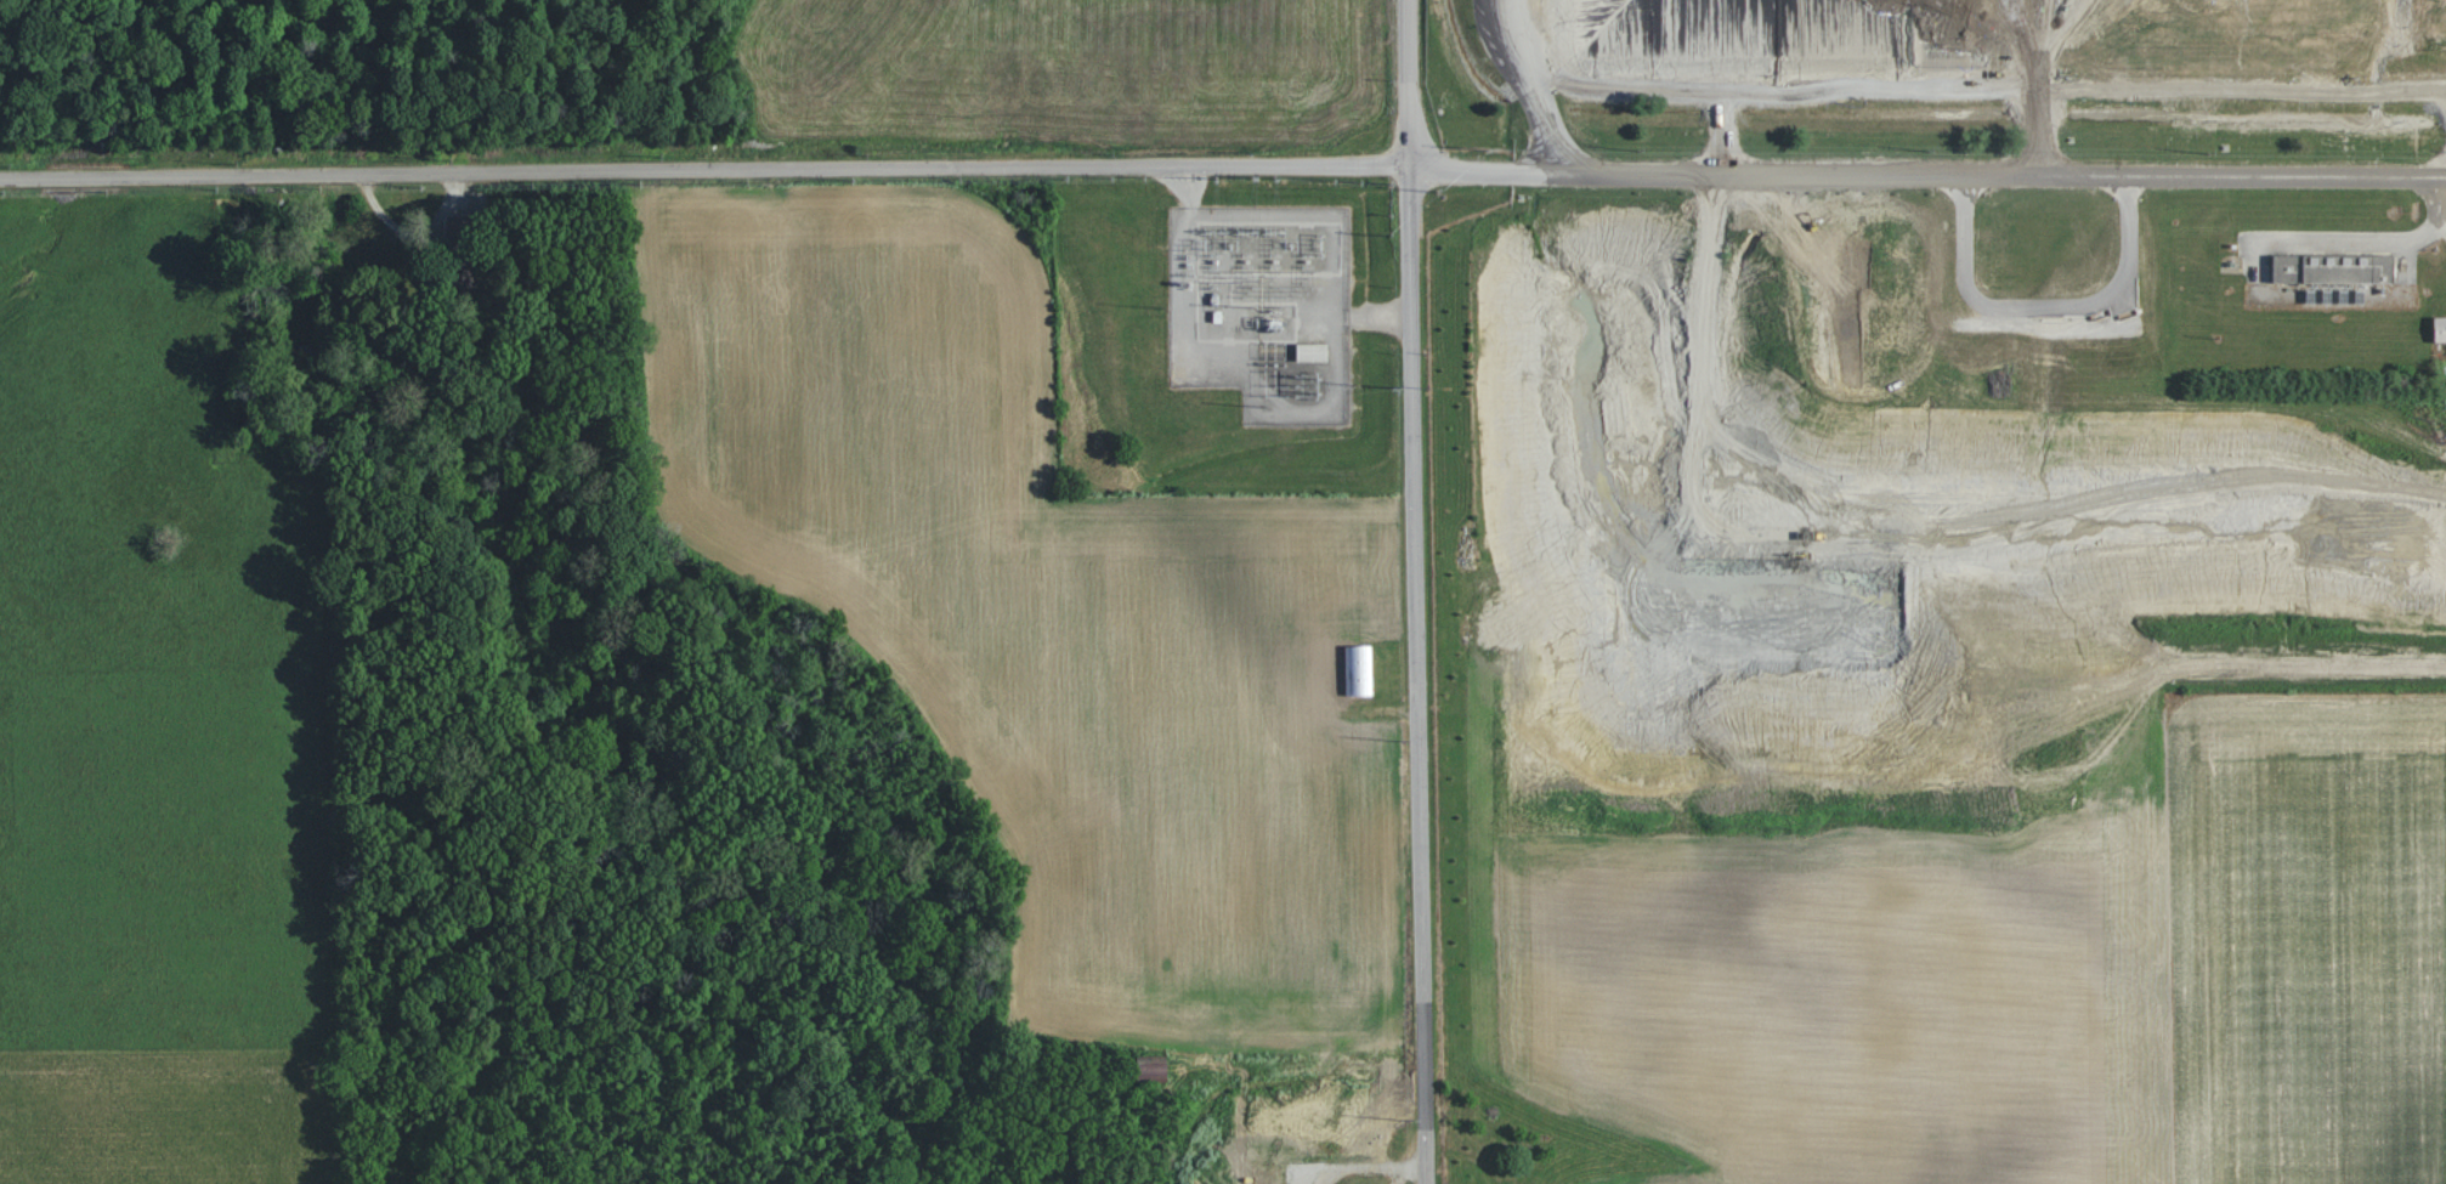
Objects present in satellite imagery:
road: (1519, 40)
road: (1525, 80)
road: (1994, 97)
road: (2040, 130)
road: (1725, 131)
road: (1222, 164)
road: (2436, 194)
building: (460, 226)
road: (2354, 242)
building: (2334, 270)
power substation: (1262, 310)
building: (2440, 329)
building: (1312, 352)
power tower: (1395, 387)
road: (1410, 591)
building: (1359, 669)
power tower: (1402, 741)
power tower: (1410, 1120)

